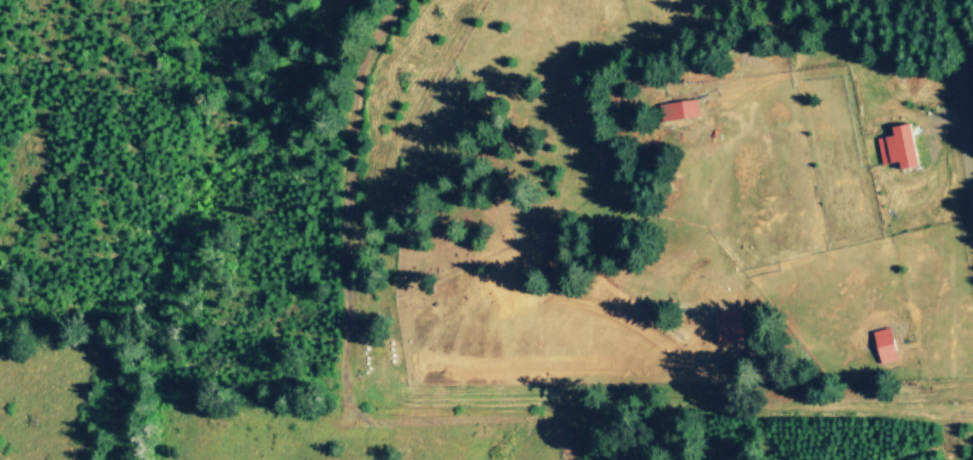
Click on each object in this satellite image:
road: (961, 102)
building: (678, 109)
building: (895, 145)
building: (726, 325)
building: (882, 343)

